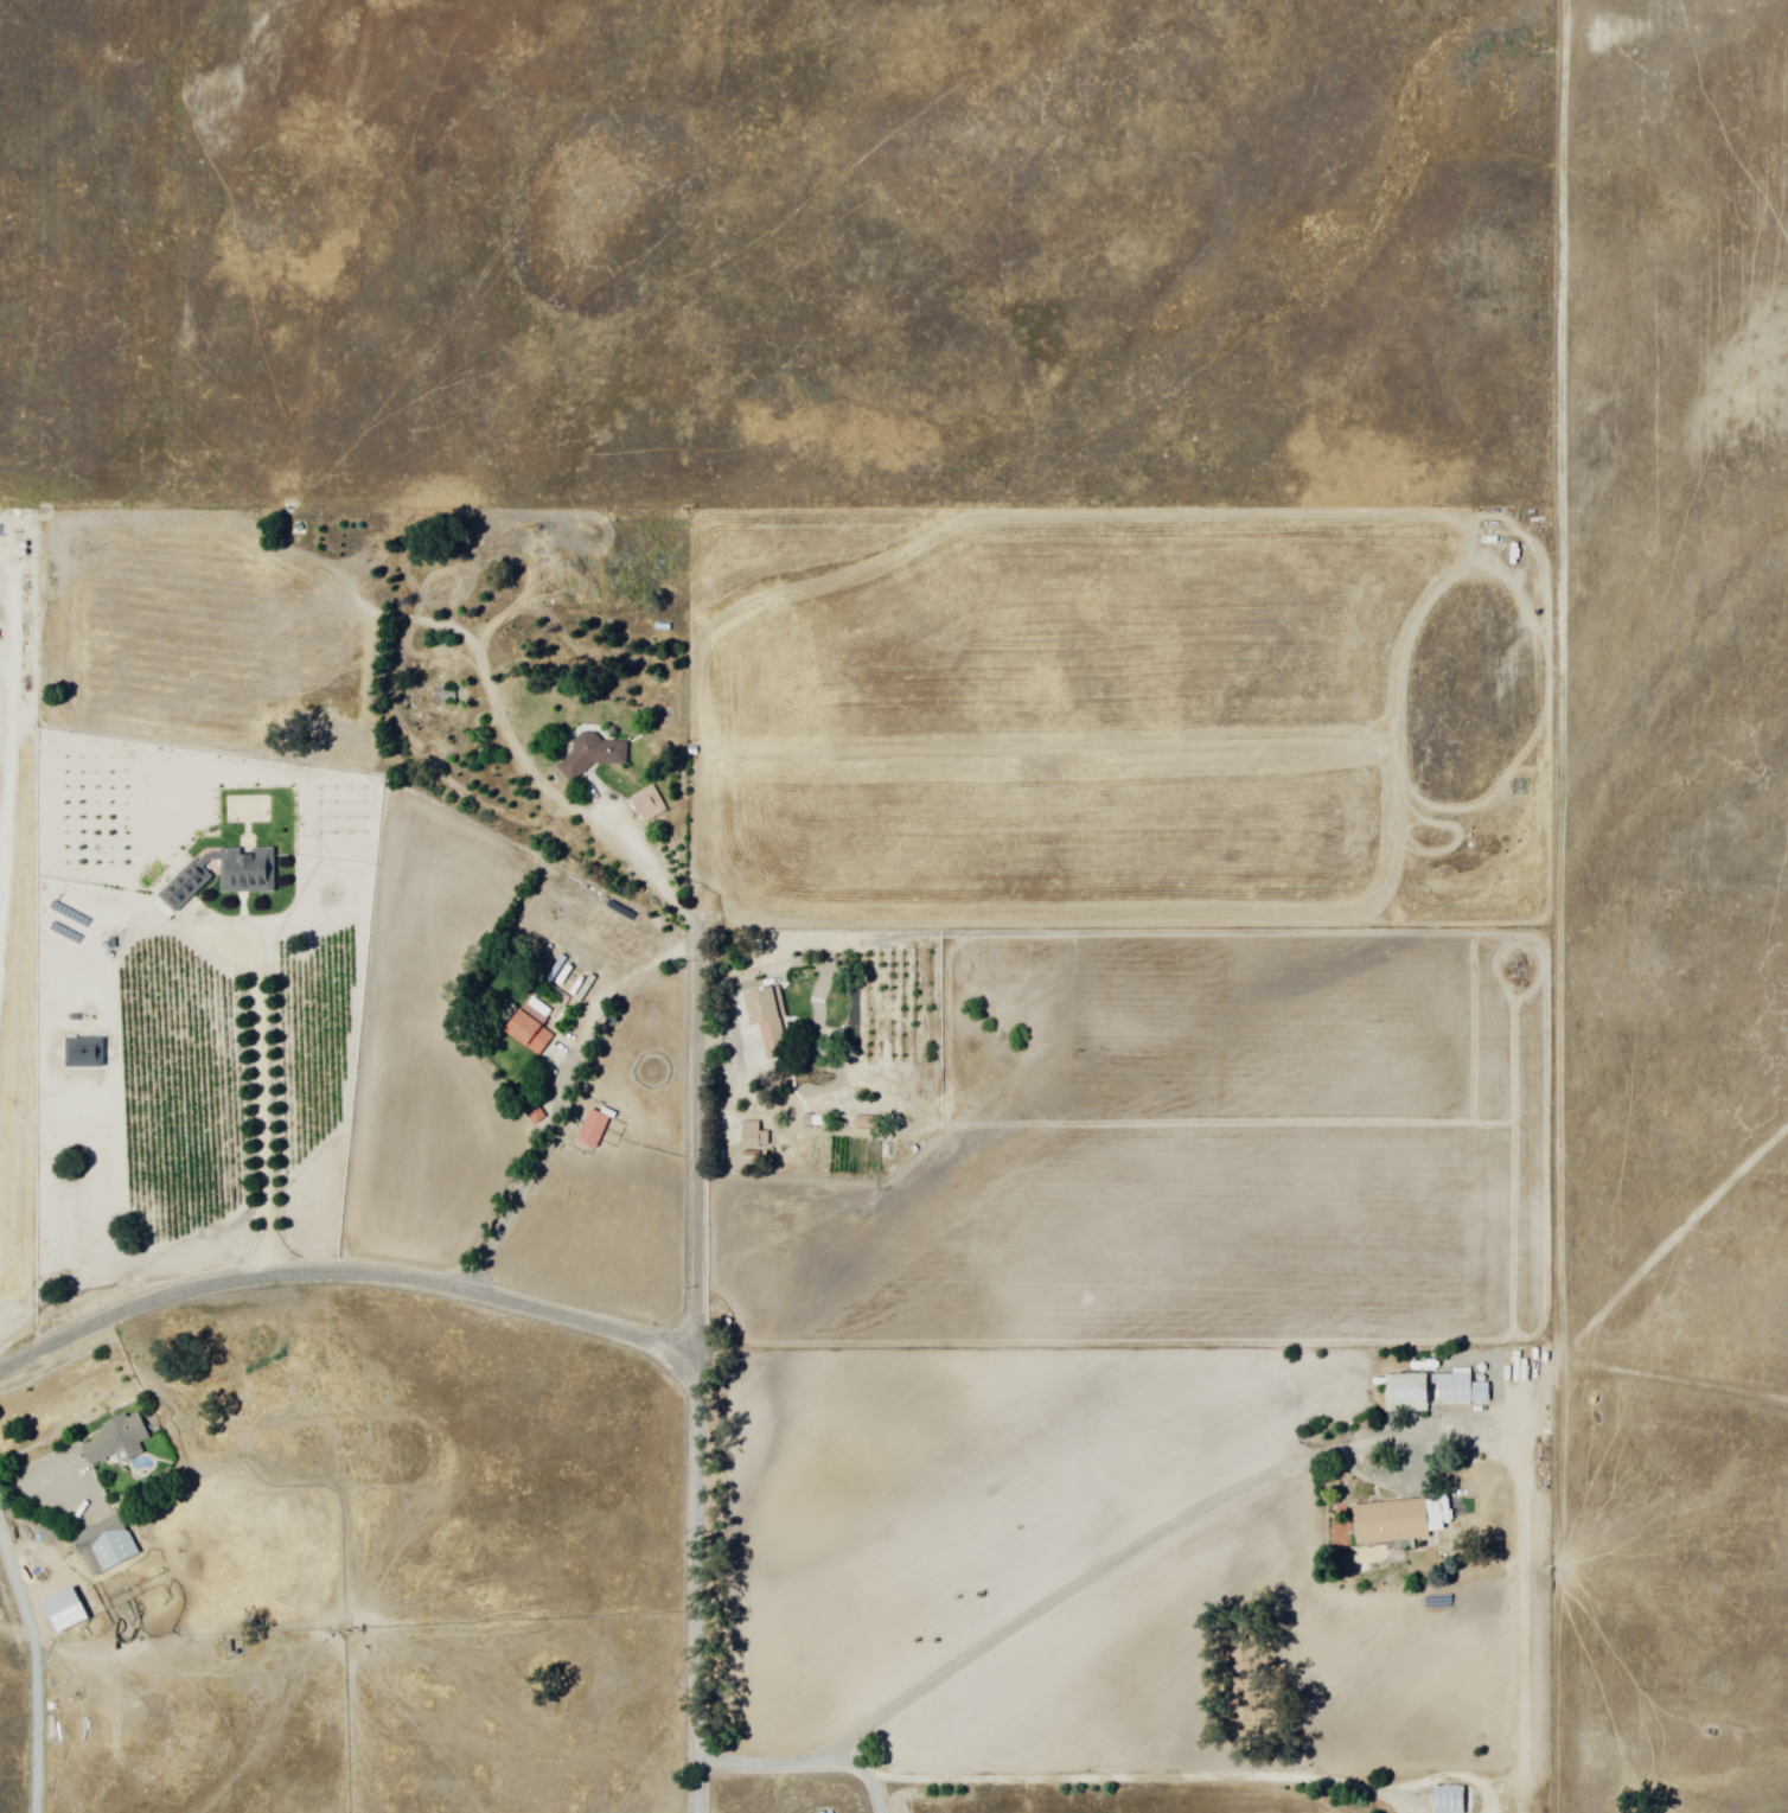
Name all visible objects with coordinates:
building: (599, 754)
building: (649, 804)
building: (224, 874)
building: (766, 1020)
building: (528, 1027)
road: (256, 1079)
building: (592, 1130)
building: (752, 1137)
road: (692, 1153)
airport taxiway: (1658, 1256)
road: (343, 1273)
road: (502, 1283)
airport taxiway: (1673, 1378)
building: (1460, 1390)
building: (1404, 1393)
building: (116, 1441)
building: (1388, 1522)
building: (104, 1546)
road: (1142, 1549)
airport runway: (1528, 1603)
building: (63, 1611)
road: (682, 1616)
road: (855, 1770)
building: (1448, 1800)

